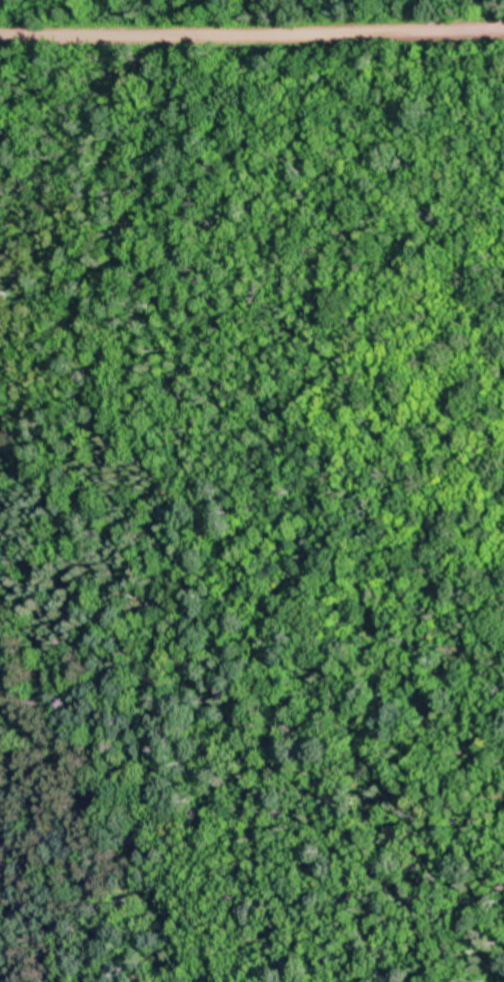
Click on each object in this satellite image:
road: (252, 35)

